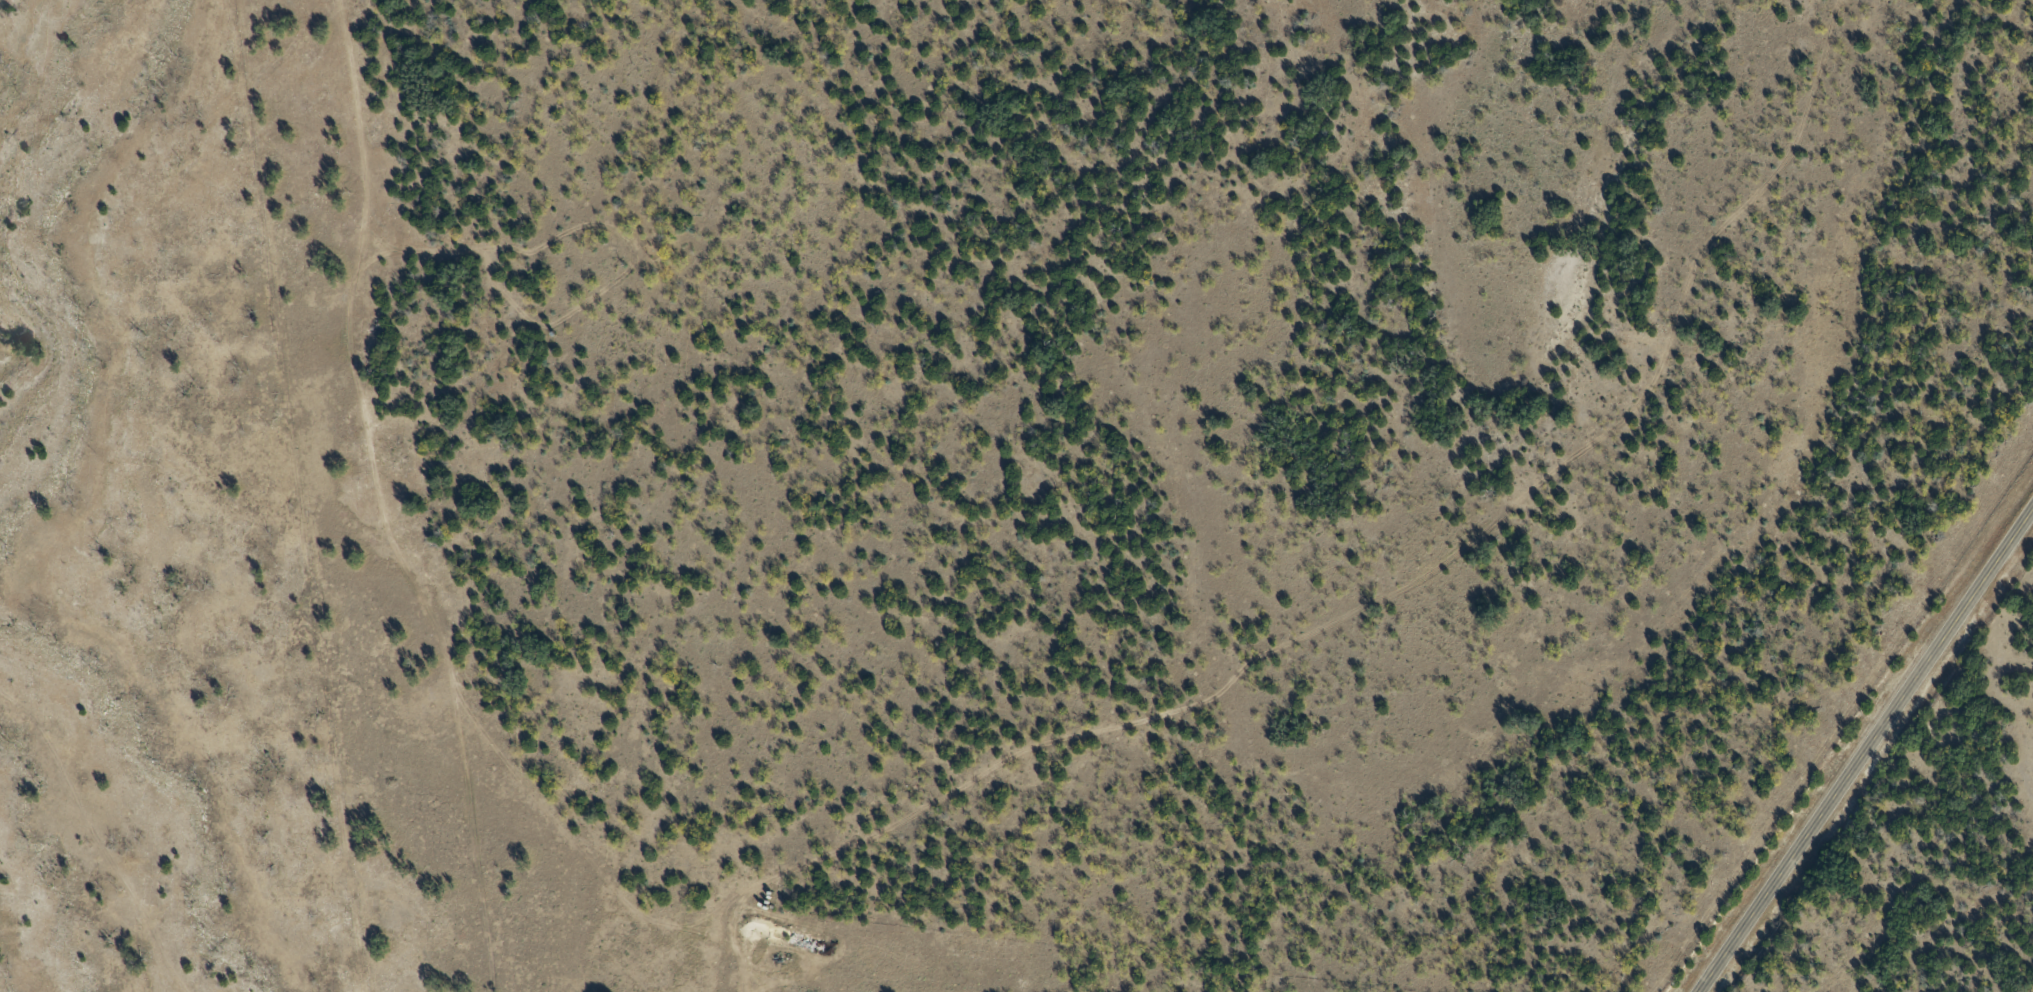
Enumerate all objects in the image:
road: (1867, 751)

